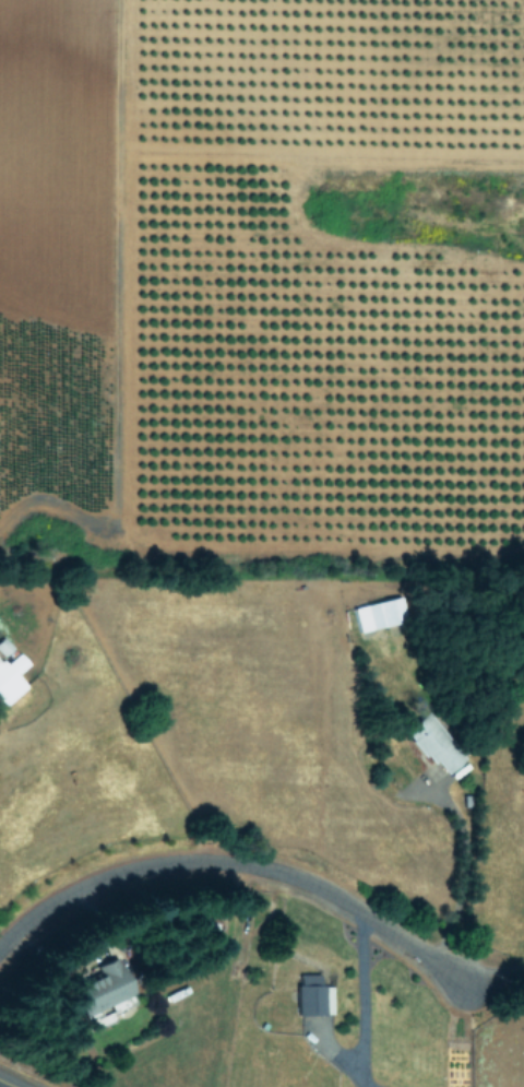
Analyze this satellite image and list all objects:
building: (380, 613)
building: (4, 646)
building: (11, 677)
building: (437, 743)
road: (236, 862)
road: (458, 864)
road: (493, 971)
building: (104, 986)
building: (314, 994)
road: (365, 1000)
road: (9, 1083)

